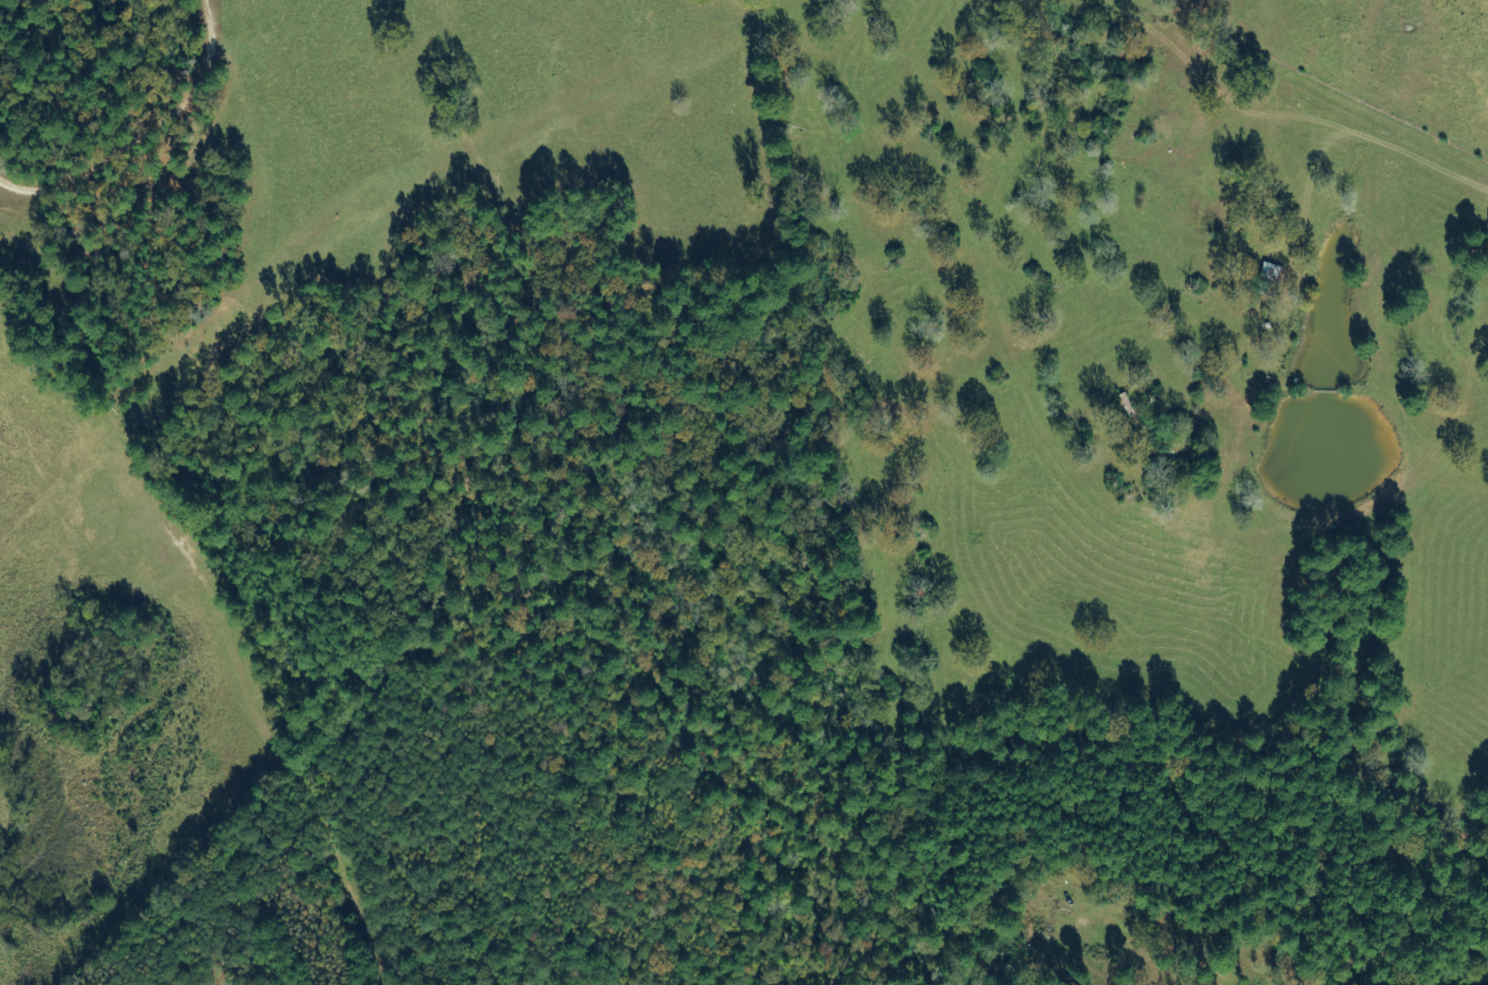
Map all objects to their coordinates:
building: (1265, 278)

